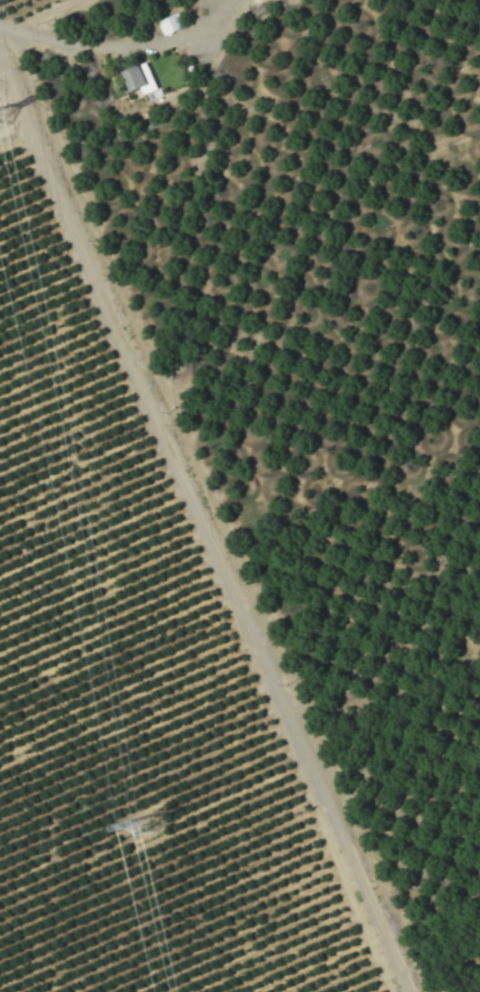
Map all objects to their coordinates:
road: (44, 13)
building: (169, 24)
road: (123, 48)
building: (137, 77)
power tower: (0, 117)
road: (204, 521)
power tower: (142, 827)

